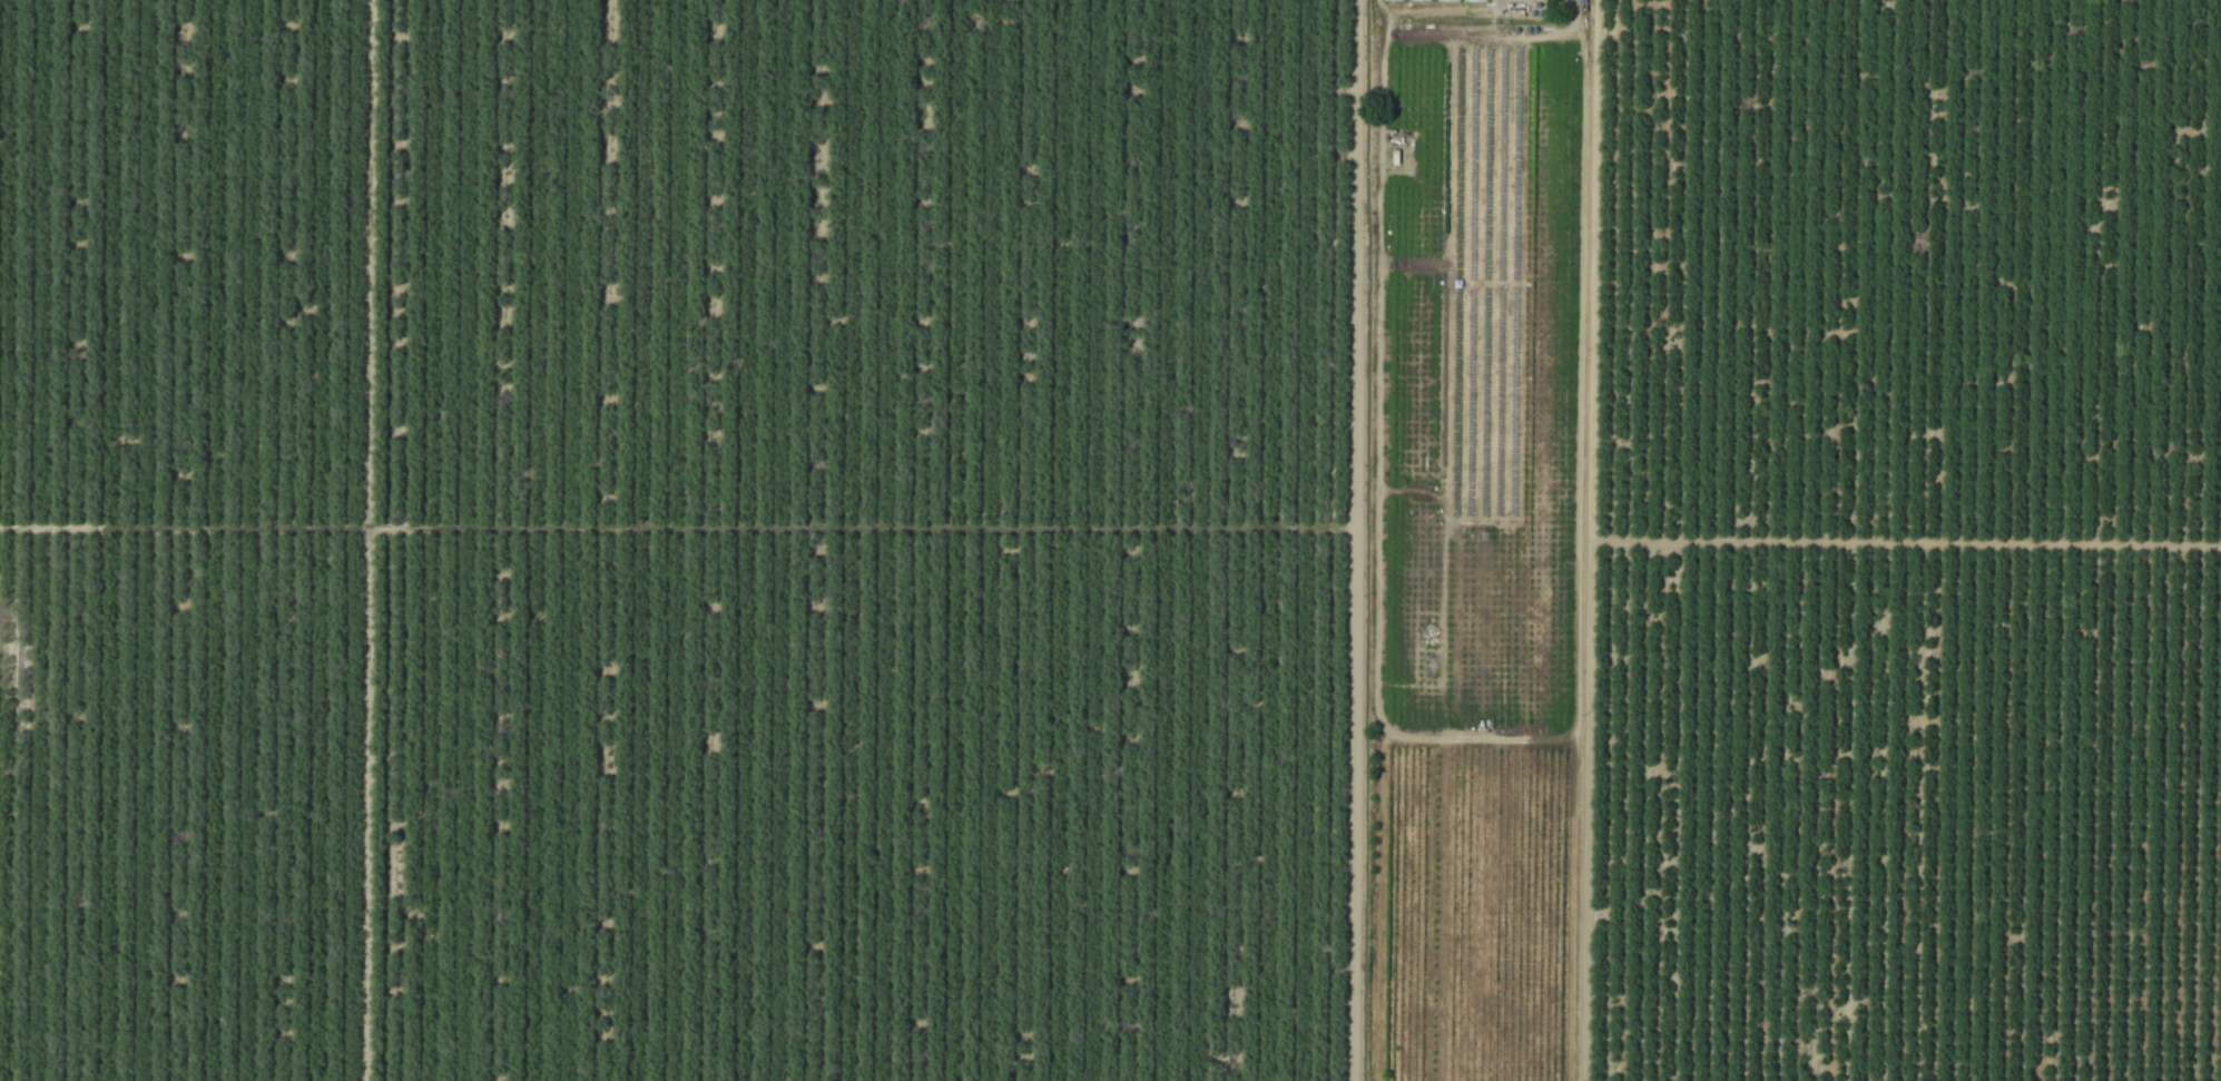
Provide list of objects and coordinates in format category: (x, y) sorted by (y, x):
building: (1444, 0)
building: (1474, 0)
road: (1384, 33)

